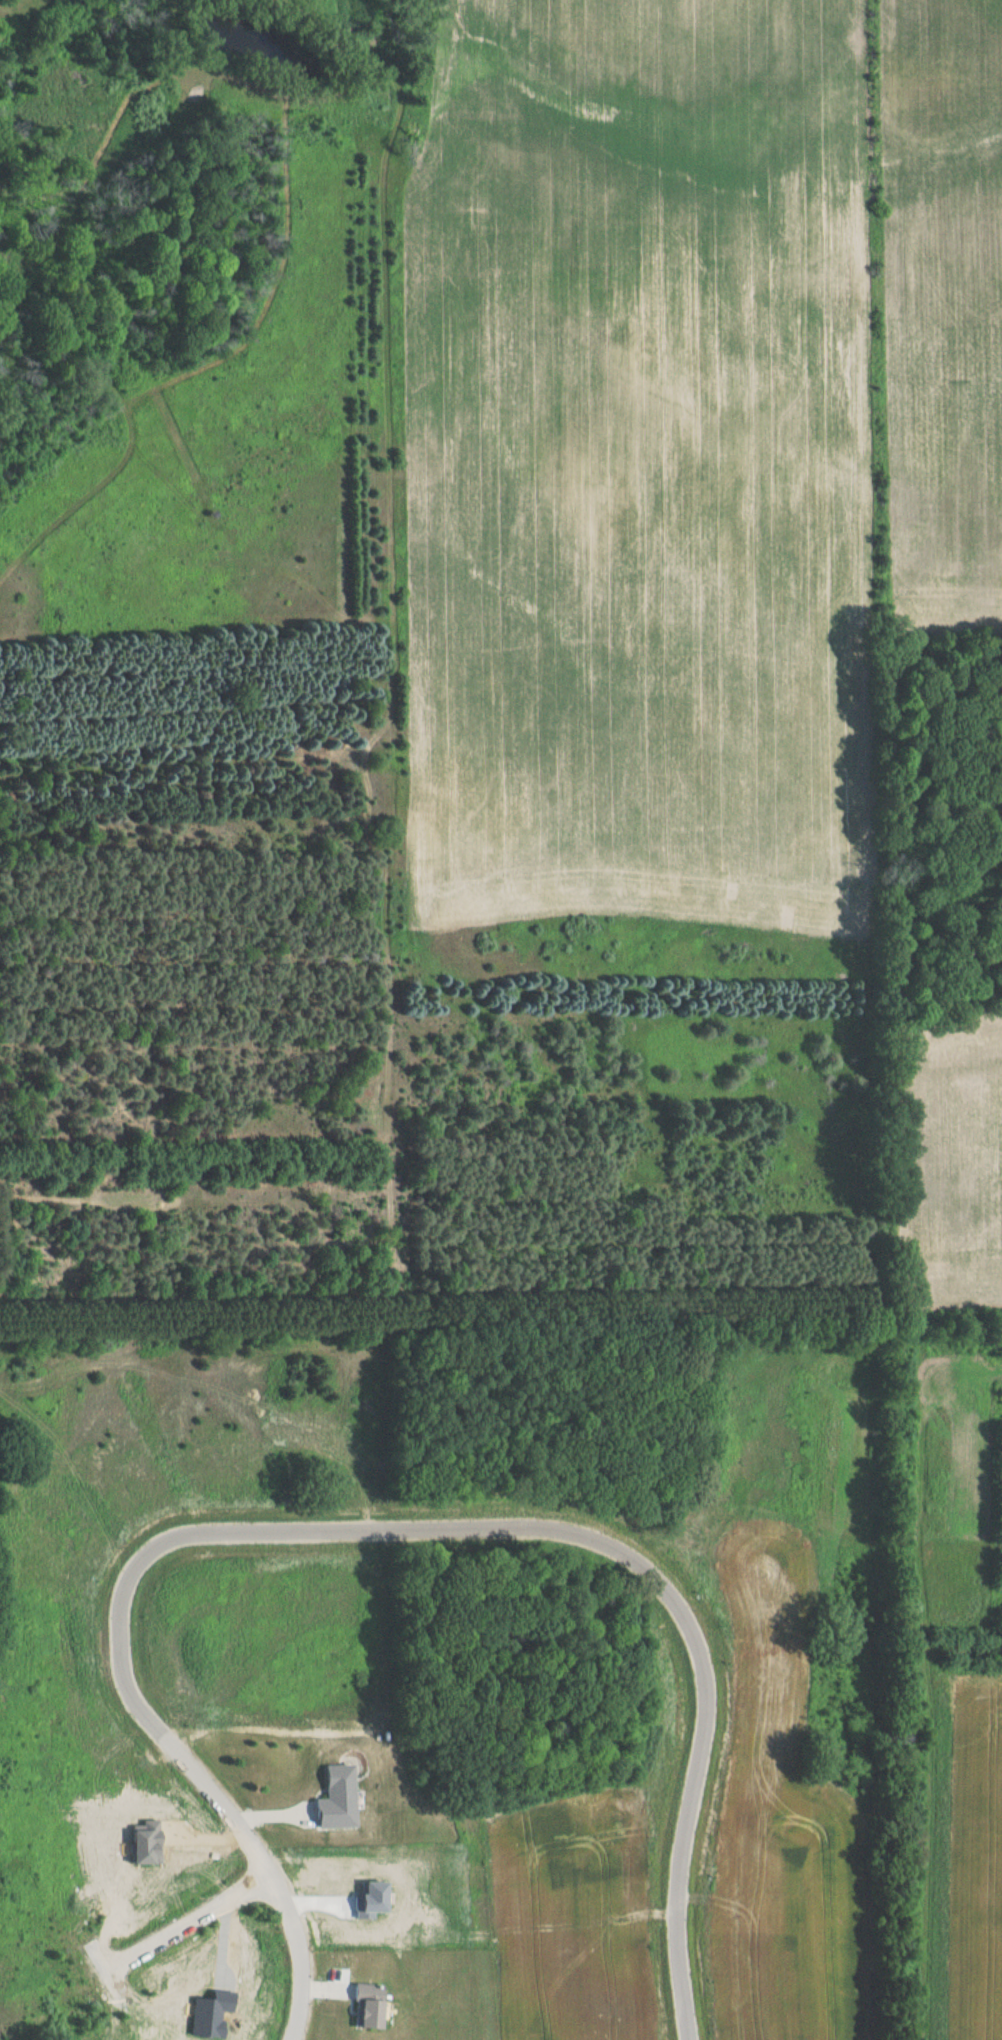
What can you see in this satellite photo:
road: (271, 1874)
road: (188, 1928)
building: (368, 2007)

